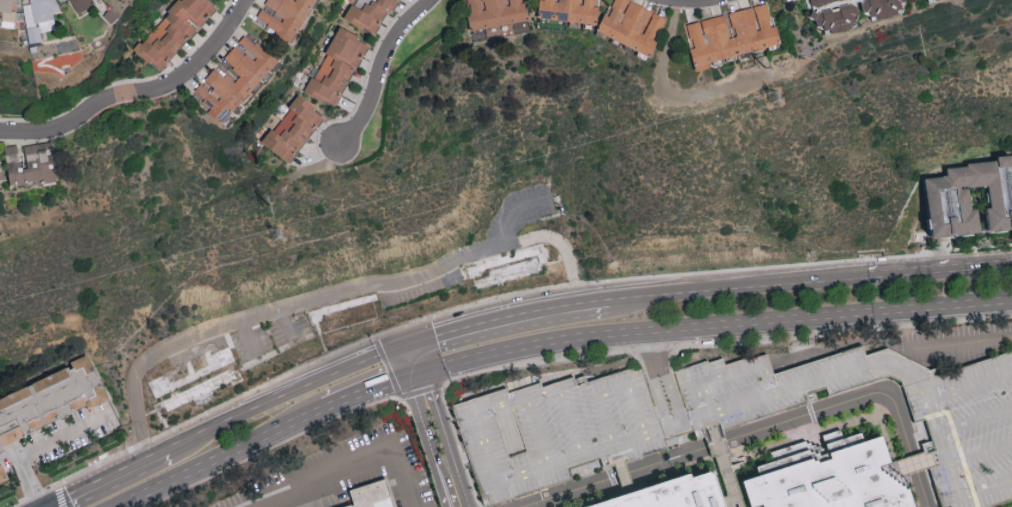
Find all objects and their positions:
building: (81, 4)
road: (687, 8)
building: (570, 9)
building: (851, 11)
building: (369, 12)
building: (495, 12)
building: (7, 13)
building: (285, 15)
building: (39, 17)
building: (632, 24)
building: (174, 29)
building: (756, 36)
building: (337, 65)
road: (377, 65)
power tower: (766, 68)
building: (249, 77)
road: (141, 96)
power tower: (775, 99)
building: (293, 128)
building: (30, 163)
building: (949, 196)
power tower: (272, 206)
power tower: (279, 236)
road: (563, 246)
road: (428, 271)
road: (940, 271)
road: (814, 284)
road: (683, 297)
road: (277, 307)
building: (346, 315)
road: (508, 319)
road: (714, 322)
road: (961, 339)
traffic signals: (412, 346)
road: (161, 355)
road: (416, 359)
traffic signals: (420, 372)
building: (974, 376)
road: (662, 379)
building: (193, 384)
road: (370, 388)
road: (287, 393)
building: (51, 397)
parking lot: (969, 426)
road: (761, 430)
parking lot: (555, 431)
road: (449, 437)
building: (484, 439)
road: (428, 440)
building: (4, 444)
road: (41, 446)
road: (220, 456)
road: (351, 461)
building: (828, 477)
building: (3, 478)
road: (111, 479)
building: (671, 494)
building: (370, 496)

